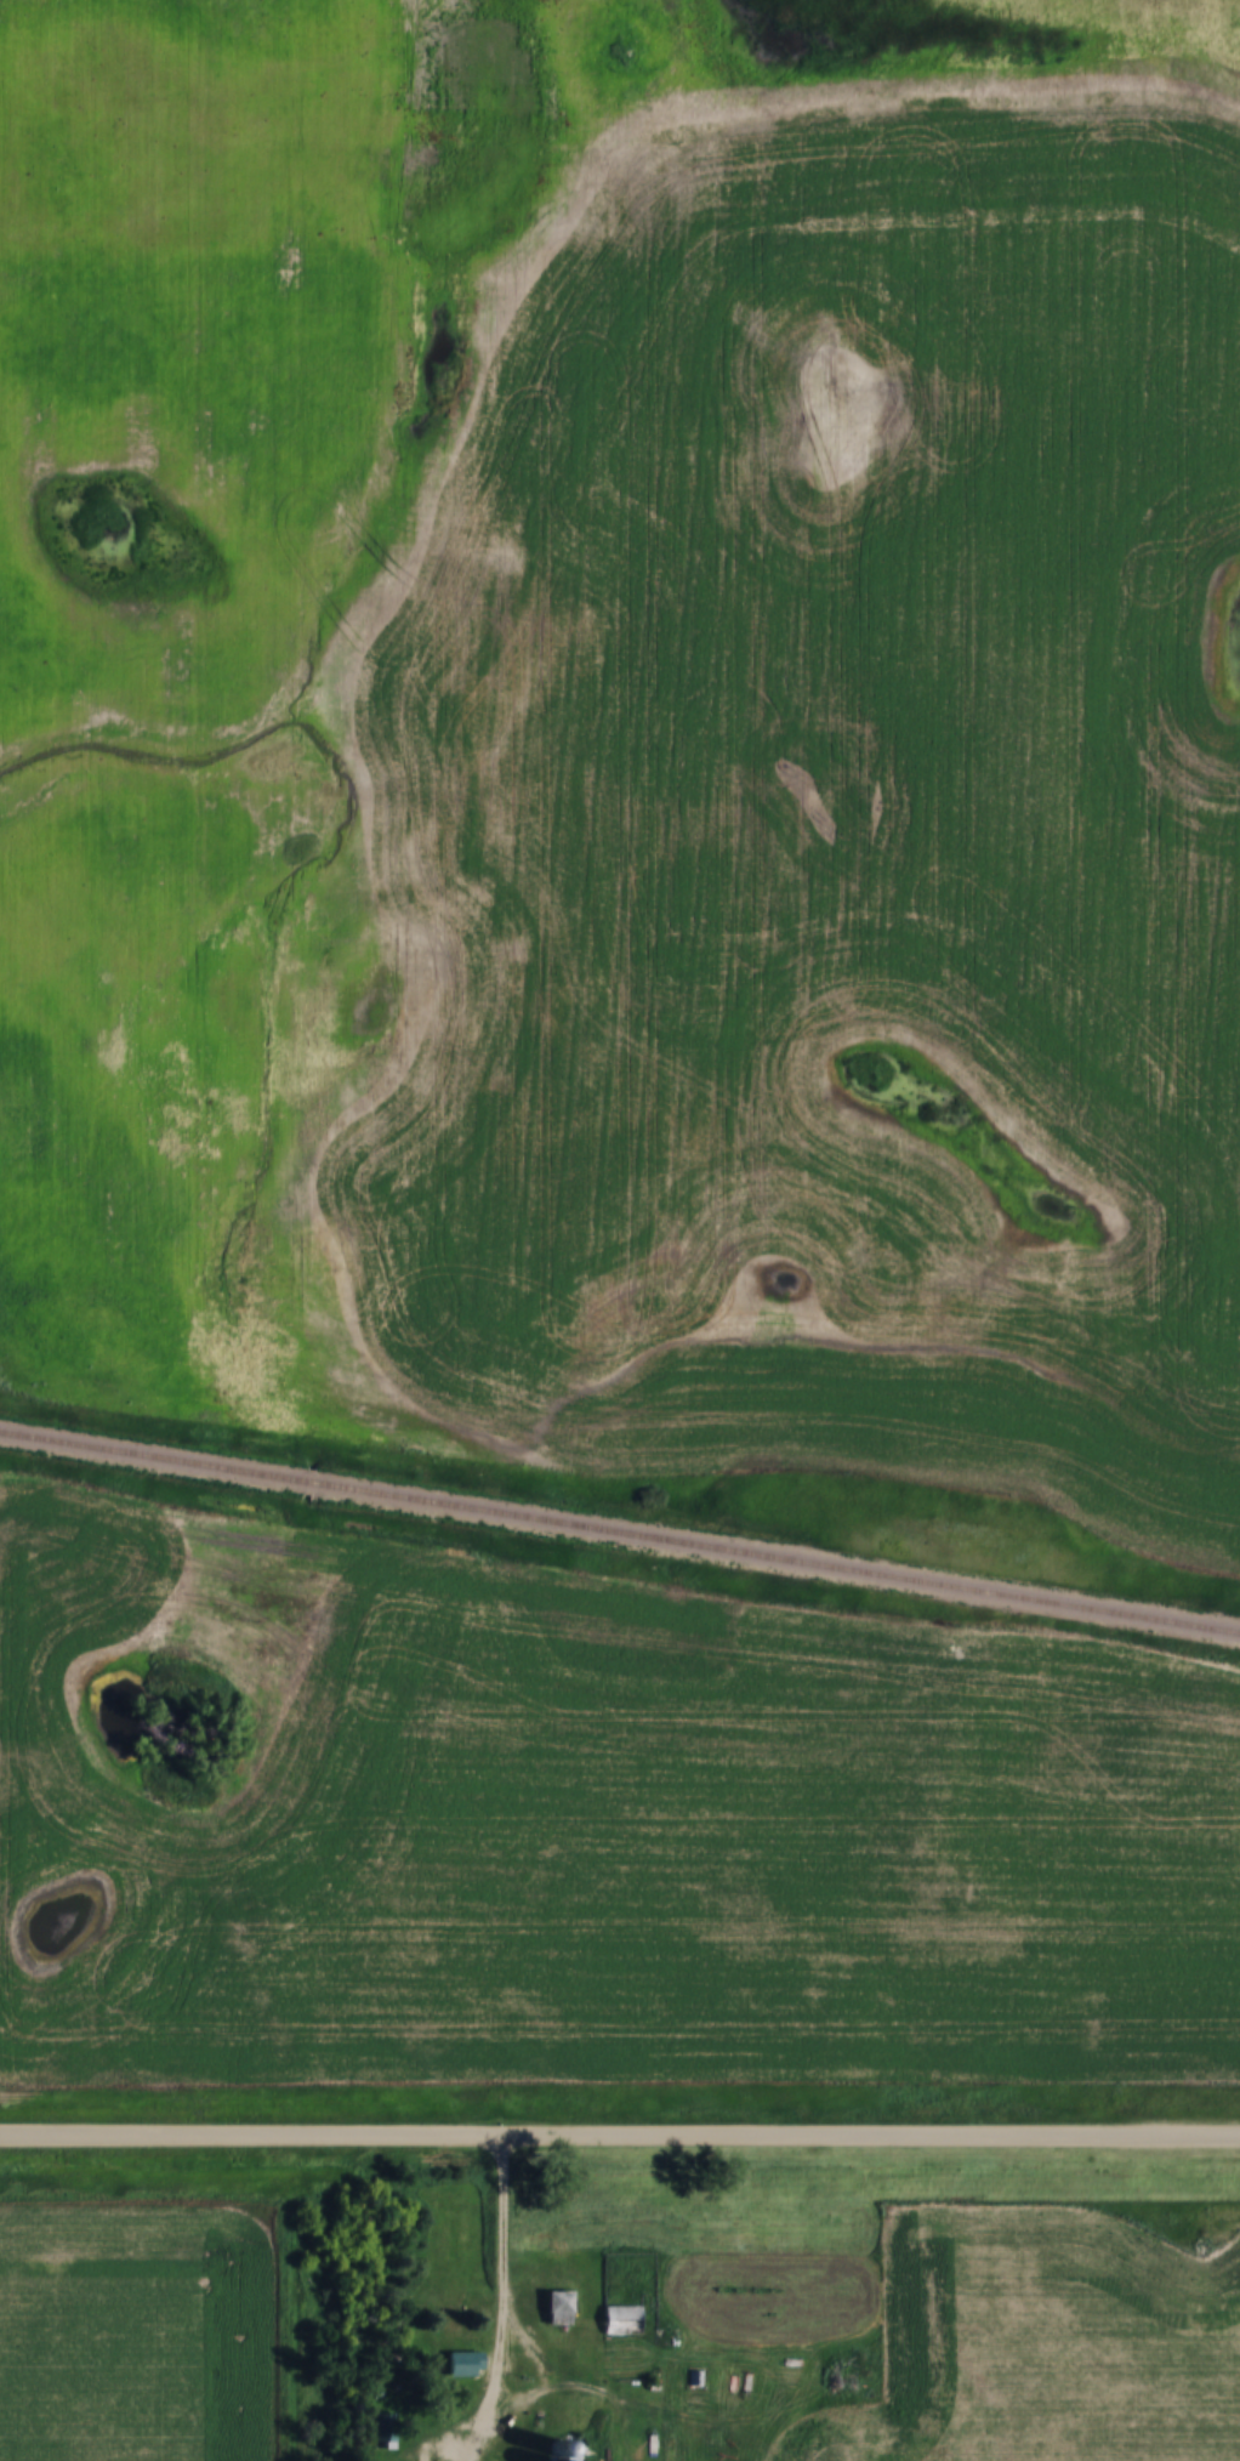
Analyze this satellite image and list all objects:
railway: (620, 1533)
road: (620, 2132)
building: (557, 2308)
building: (621, 2320)
building: (462, 2364)
building: (385, 2429)
building: (552, 2450)

